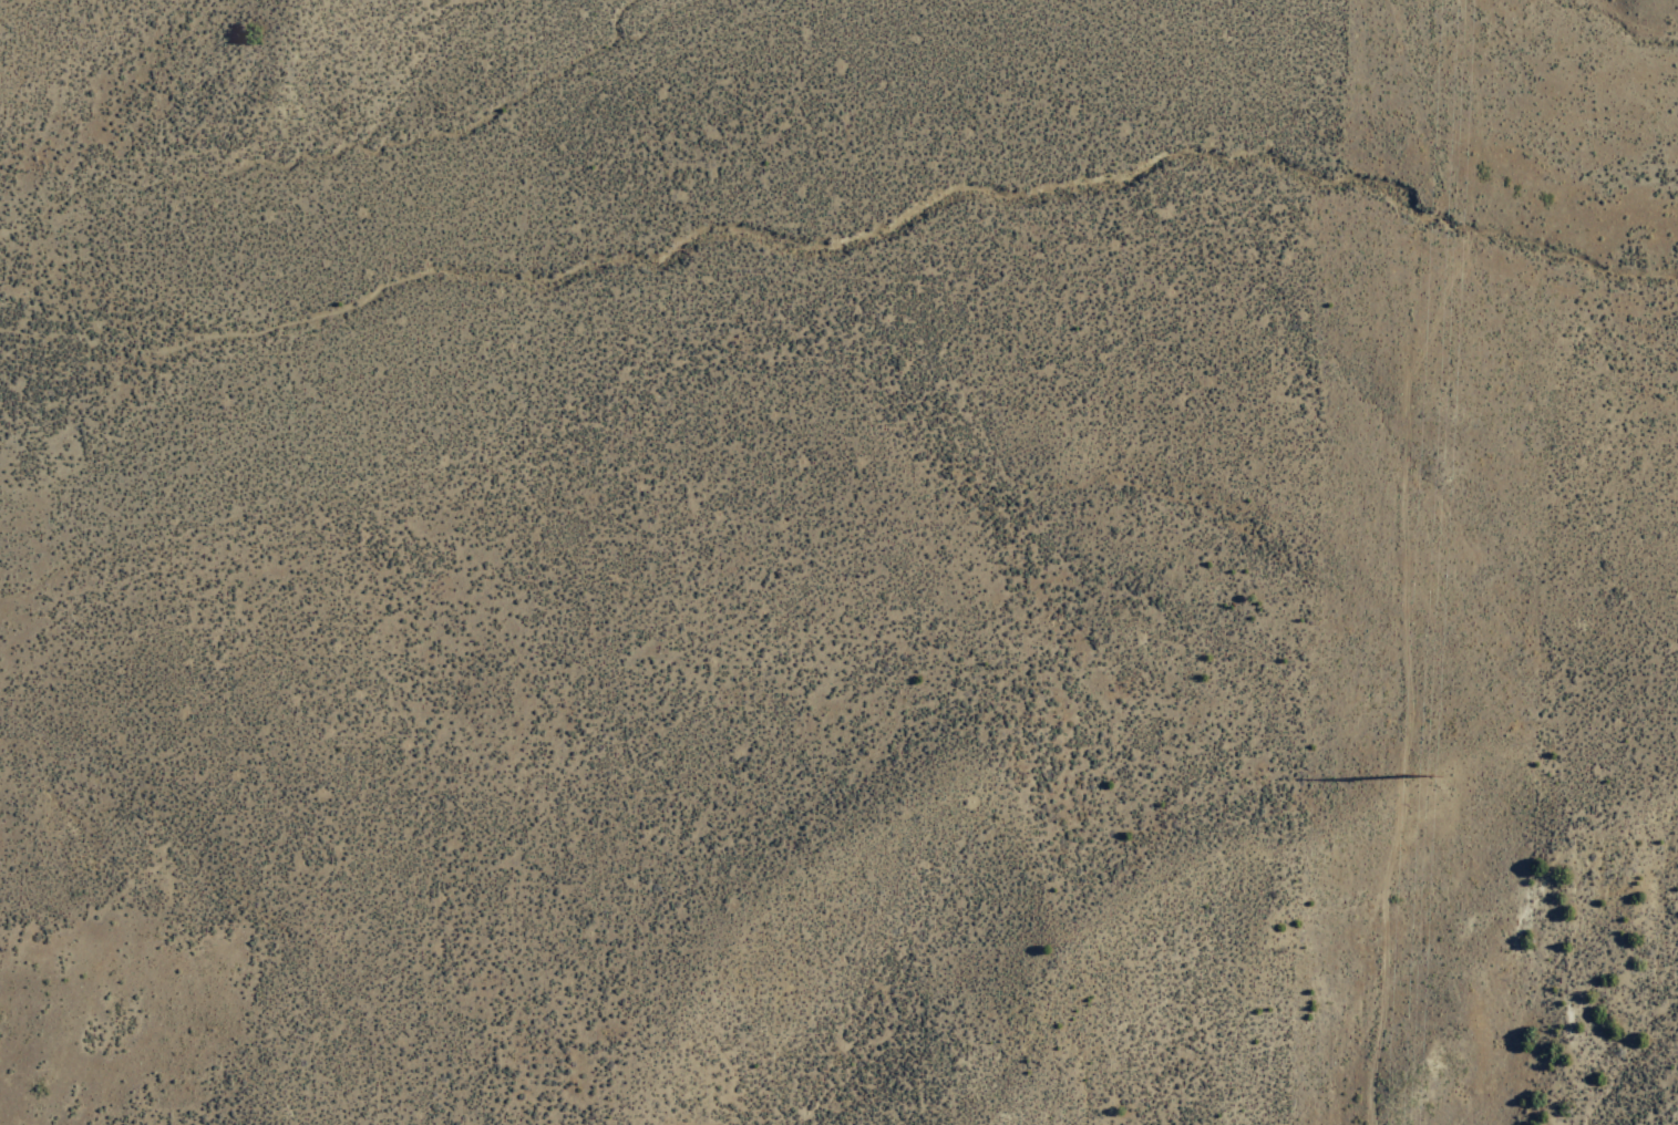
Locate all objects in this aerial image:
road: (1397, 564)
power tower: (1421, 783)

